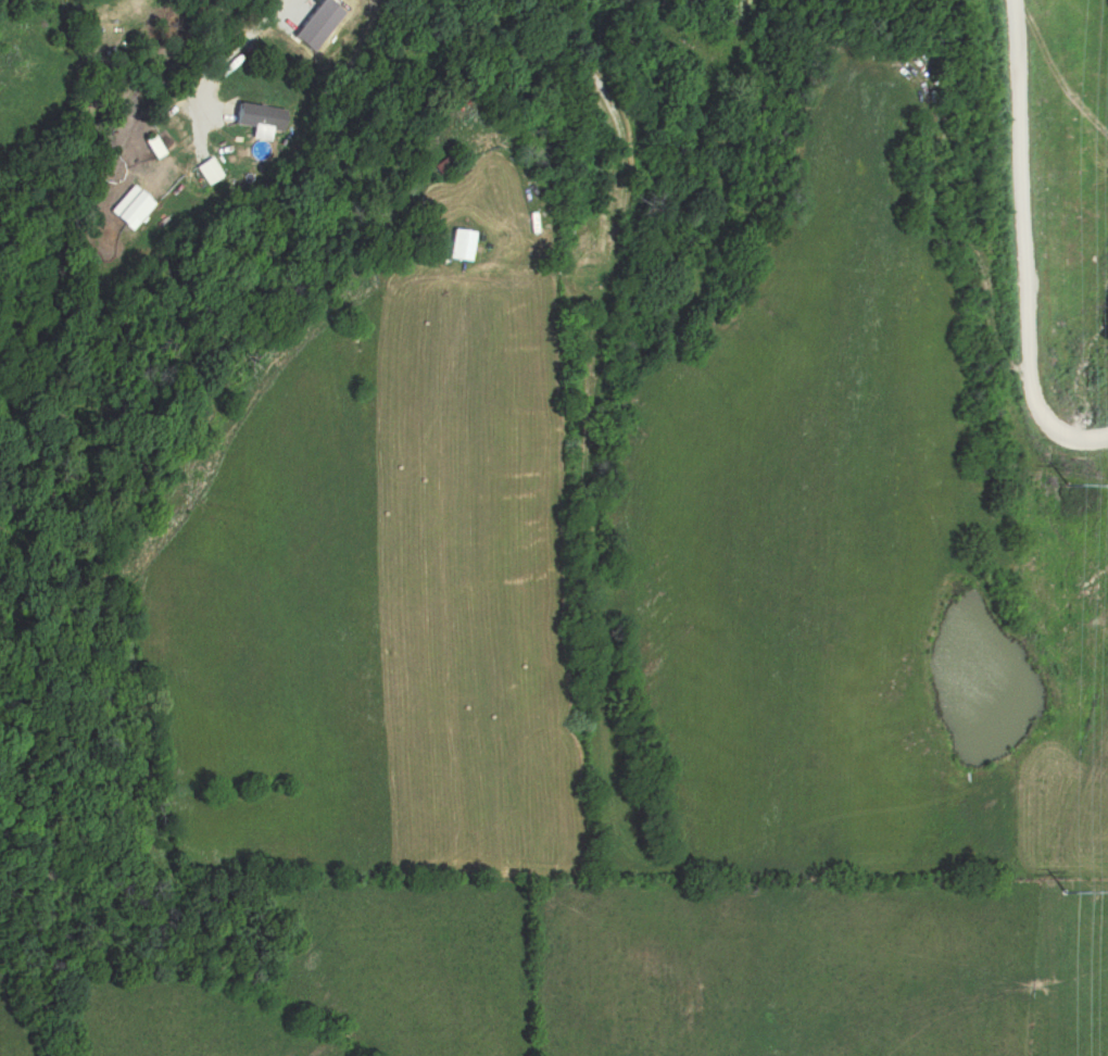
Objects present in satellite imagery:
road: (241, 40)
road: (620, 110)
building: (253, 115)
building: (151, 146)
building: (441, 162)
building: (200, 173)
building: (459, 241)
road: (1027, 247)
power tower: (1079, 483)
power tower: (1075, 901)

